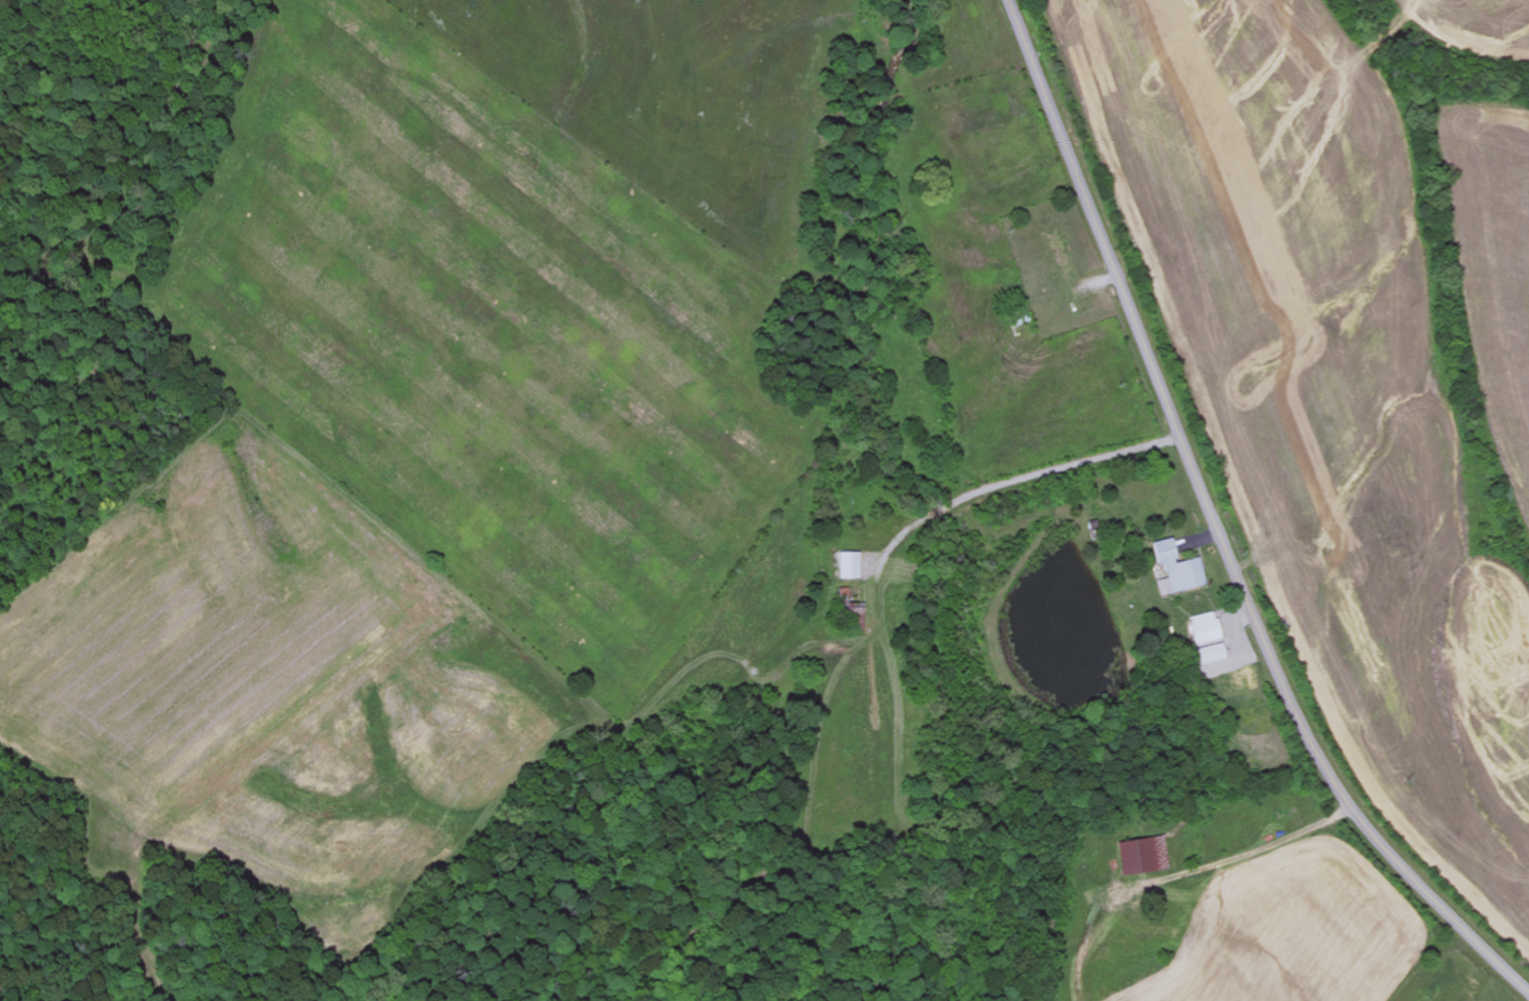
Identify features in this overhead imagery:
road: (1216, 528)
building: (850, 566)
building: (1178, 570)
building: (1208, 639)
building: (1143, 856)

